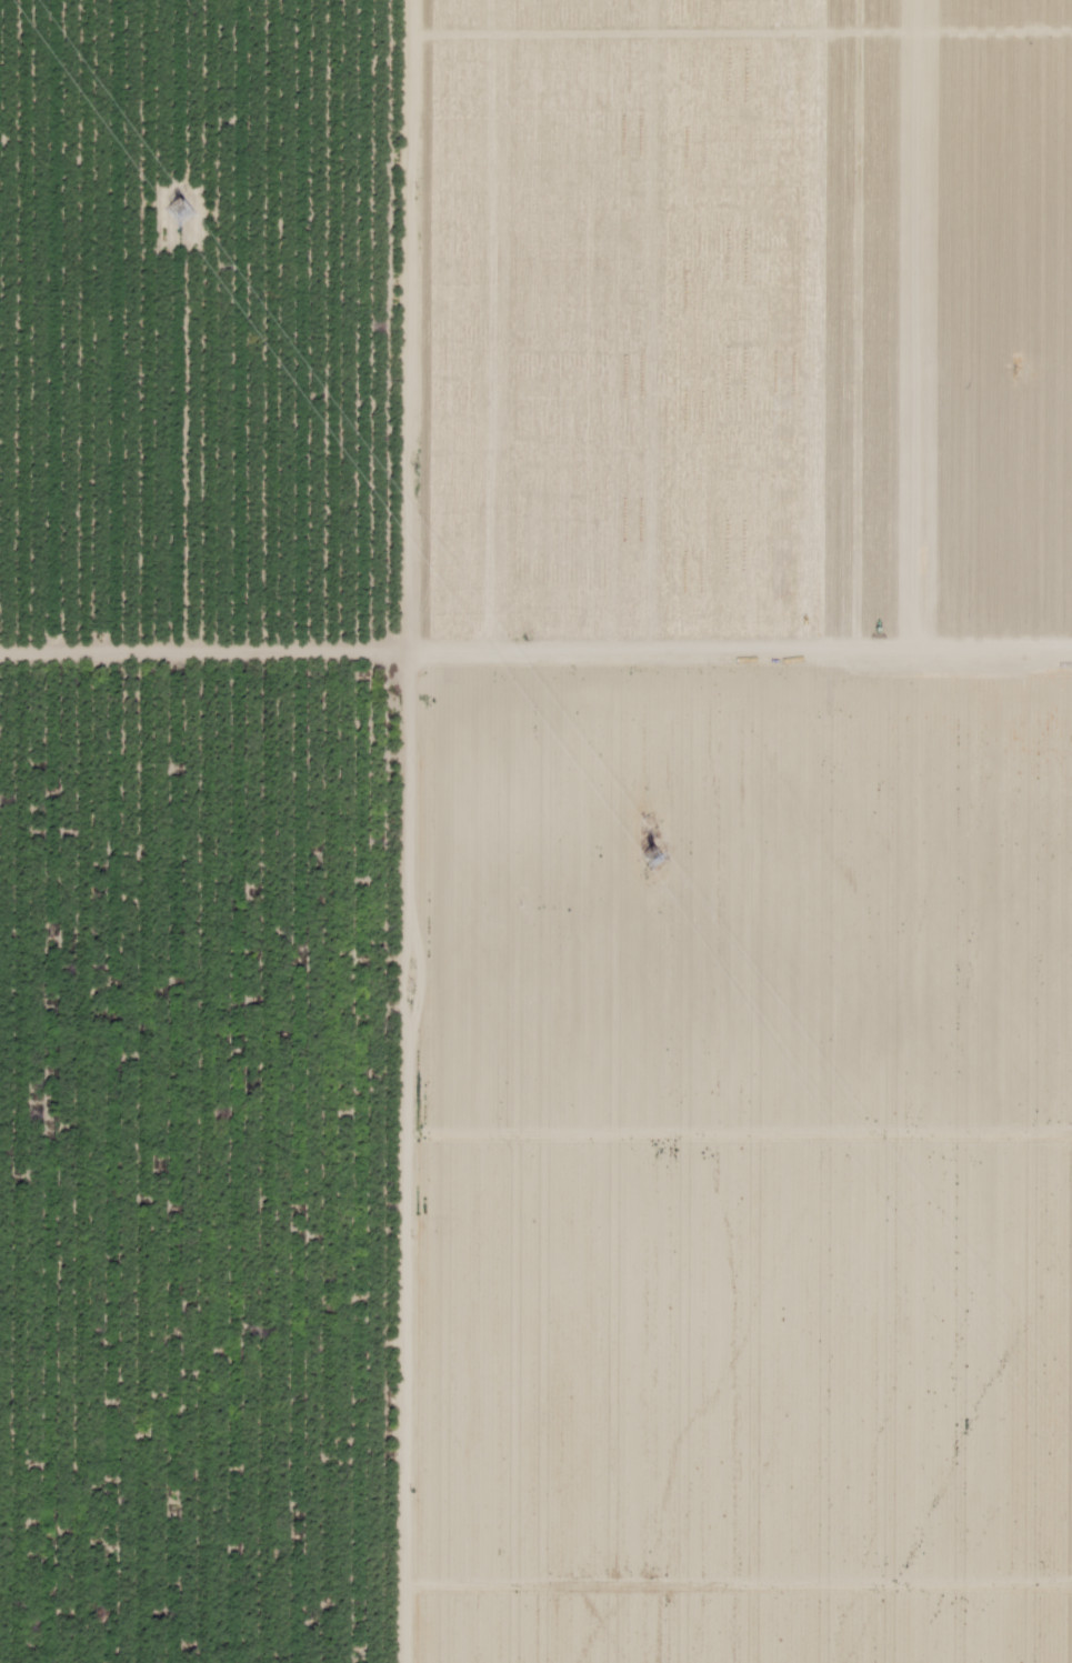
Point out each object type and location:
power tower: (190, 206)
crop: (203, 831)
road: (398, 831)
crop: (739, 831)
power tower: (653, 859)

